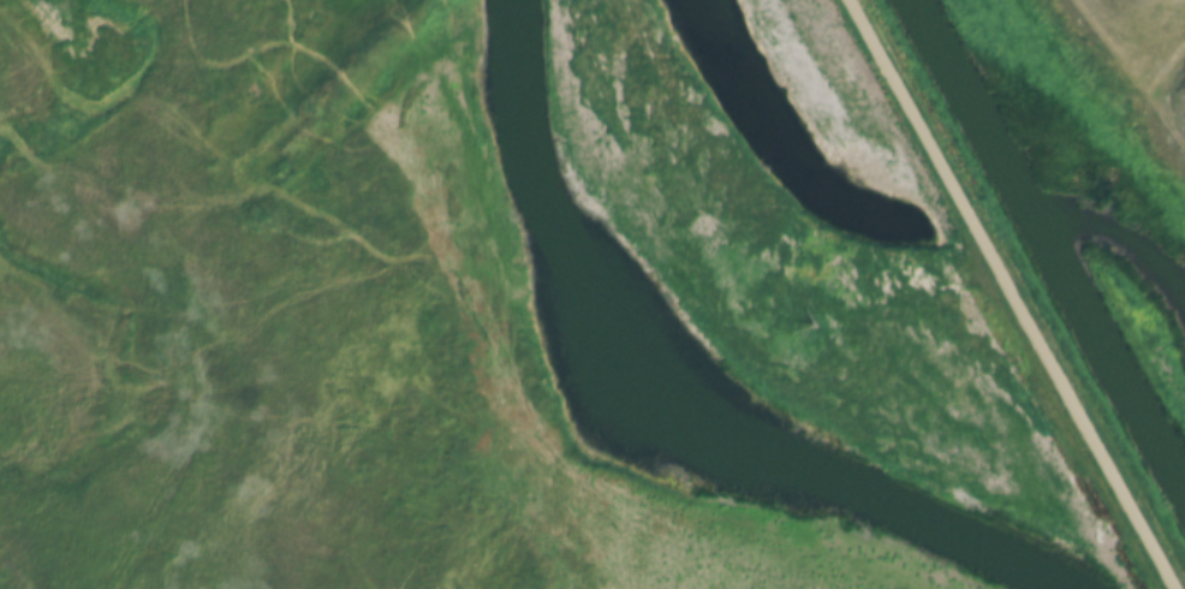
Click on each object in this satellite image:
river: (1049, 246)
road: (1016, 294)
river: (675, 388)

